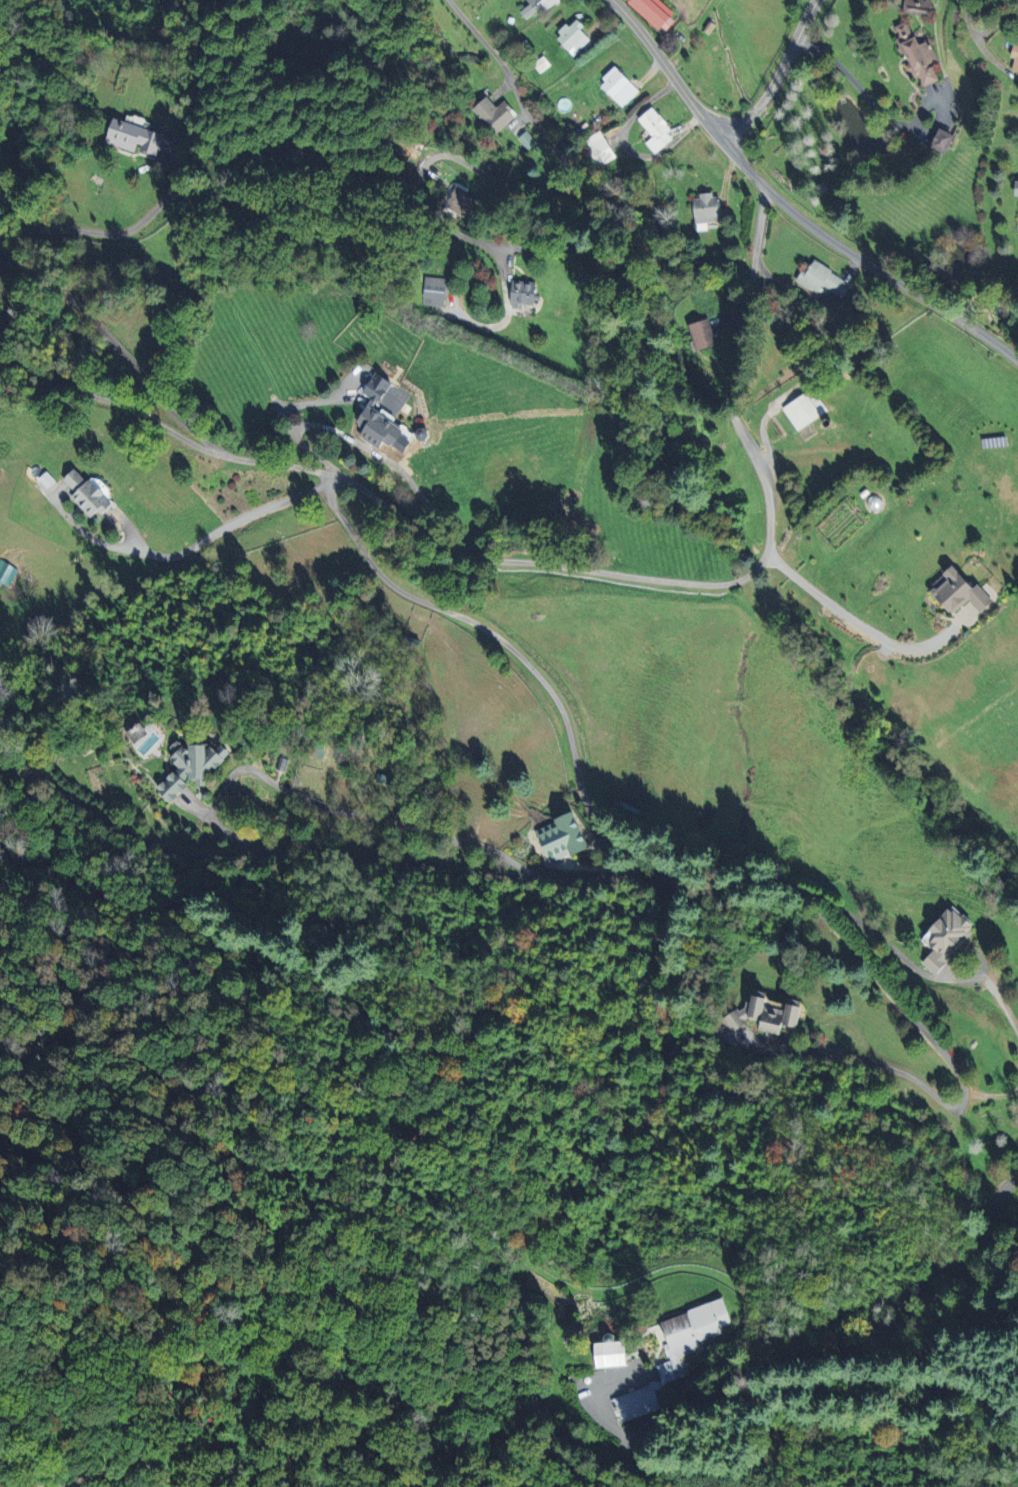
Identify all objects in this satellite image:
building: (537, 6)
building: (917, 7)
building: (656, 14)
building: (573, 37)
road: (978, 39)
building: (918, 55)
building: (1015, 59)
road: (775, 74)
building: (619, 87)
road: (864, 93)
building: (493, 114)
building: (657, 130)
building: (135, 137)
building: (527, 140)
building: (944, 141)
building: (597, 149)
road: (471, 167)
building: (1017, 189)
building: (463, 201)
road: (788, 209)
building: (707, 211)
road: (112, 233)
building: (823, 280)
building: (434, 291)
building: (524, 294)
building: (704, 335)
road: (118, 347)
building: (806, 411)
building: (383, 412)
building: (47, 479)
building: (89, 494)
road: (190, 547)
road: (555, 565)
building: (954, 592)
road: (850, 617)
road: (511, 649)
building: (195, 765)
building: (565, 837)
road: (311, 851)
road: (833, 927)
building: (940, 936)
road: (891, 947)
road: (963, 950)
road: (1001, 1002)
building: (762, 1017)
road: (876, 1062)
road: (991, 1096)
road: (995, 1218)
road: (805, 1337)
building: (605, 1354)
building: (670, 1355)
road: (67, 1419)
road: (100, 1478)

